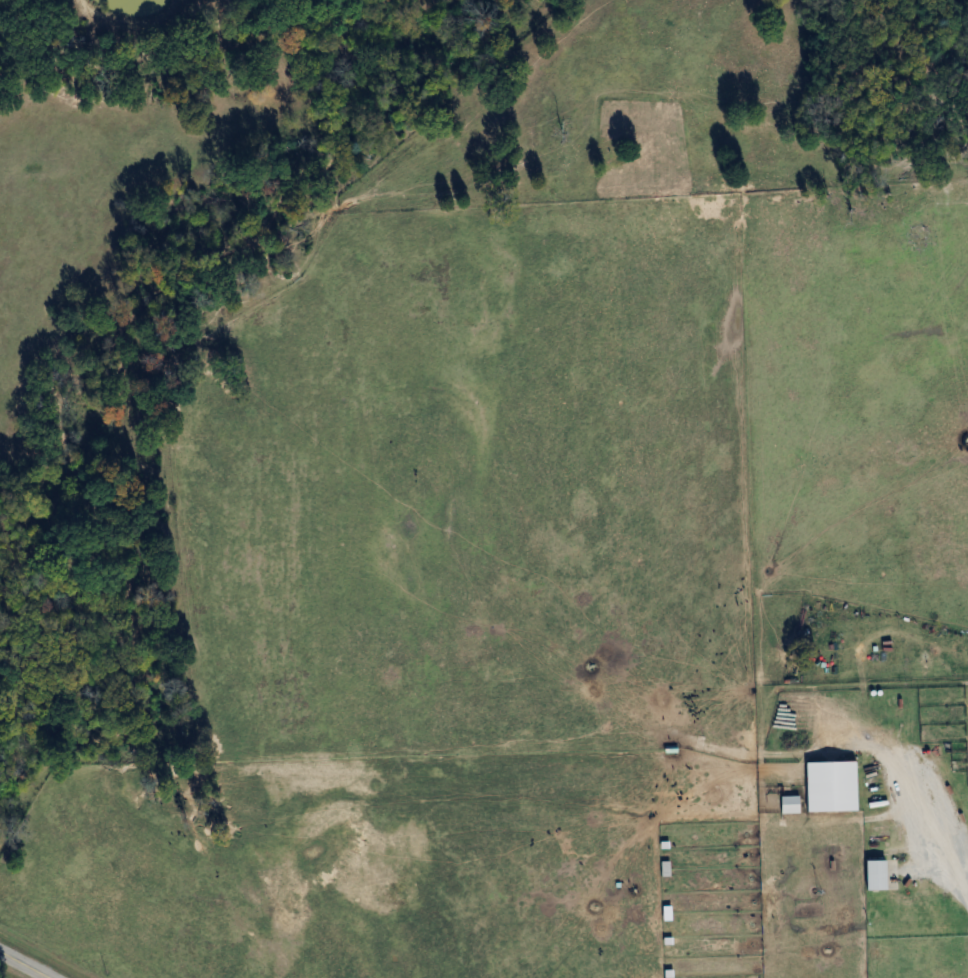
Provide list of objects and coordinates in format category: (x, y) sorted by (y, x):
building: (827, 788)
building: (786, 806)
road: (950, 865)
building: (871, 877)
road: (25, 964)

